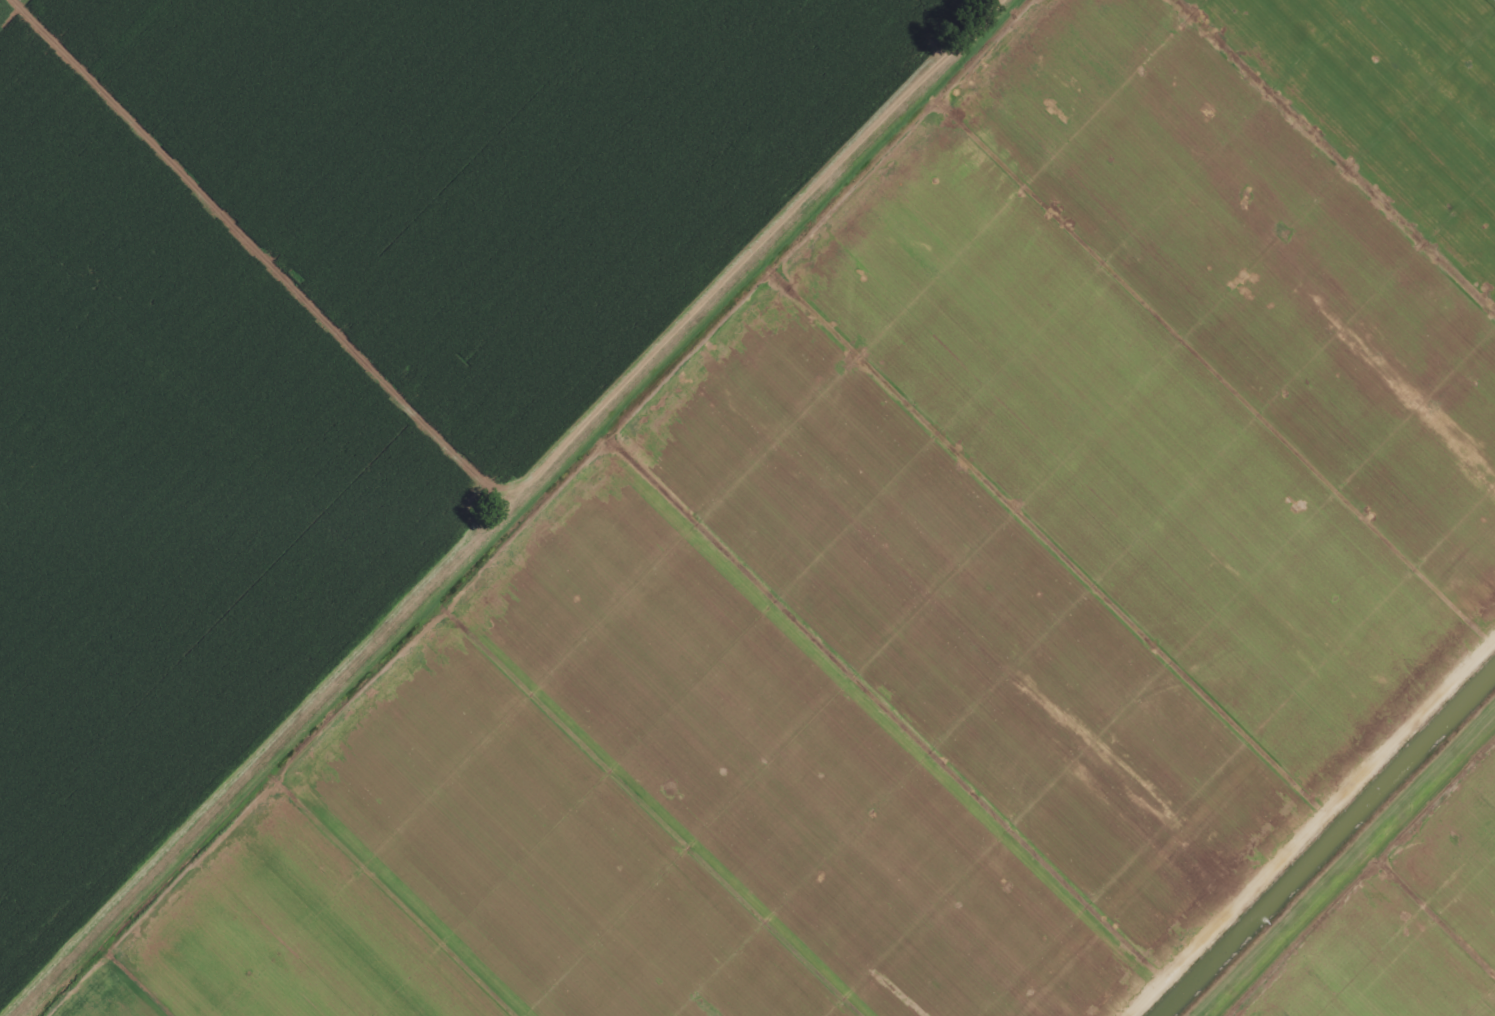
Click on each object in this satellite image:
road: (1313, 829)

